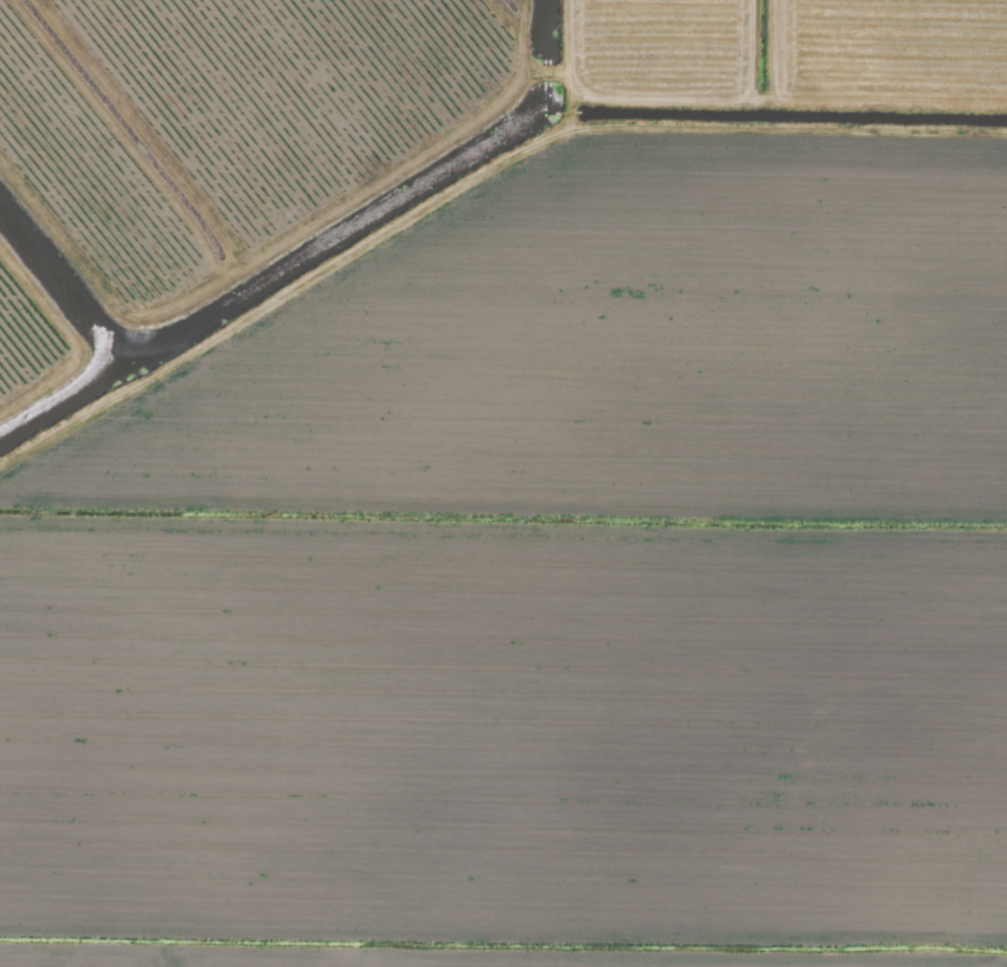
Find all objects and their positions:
crop: (503, 483)

